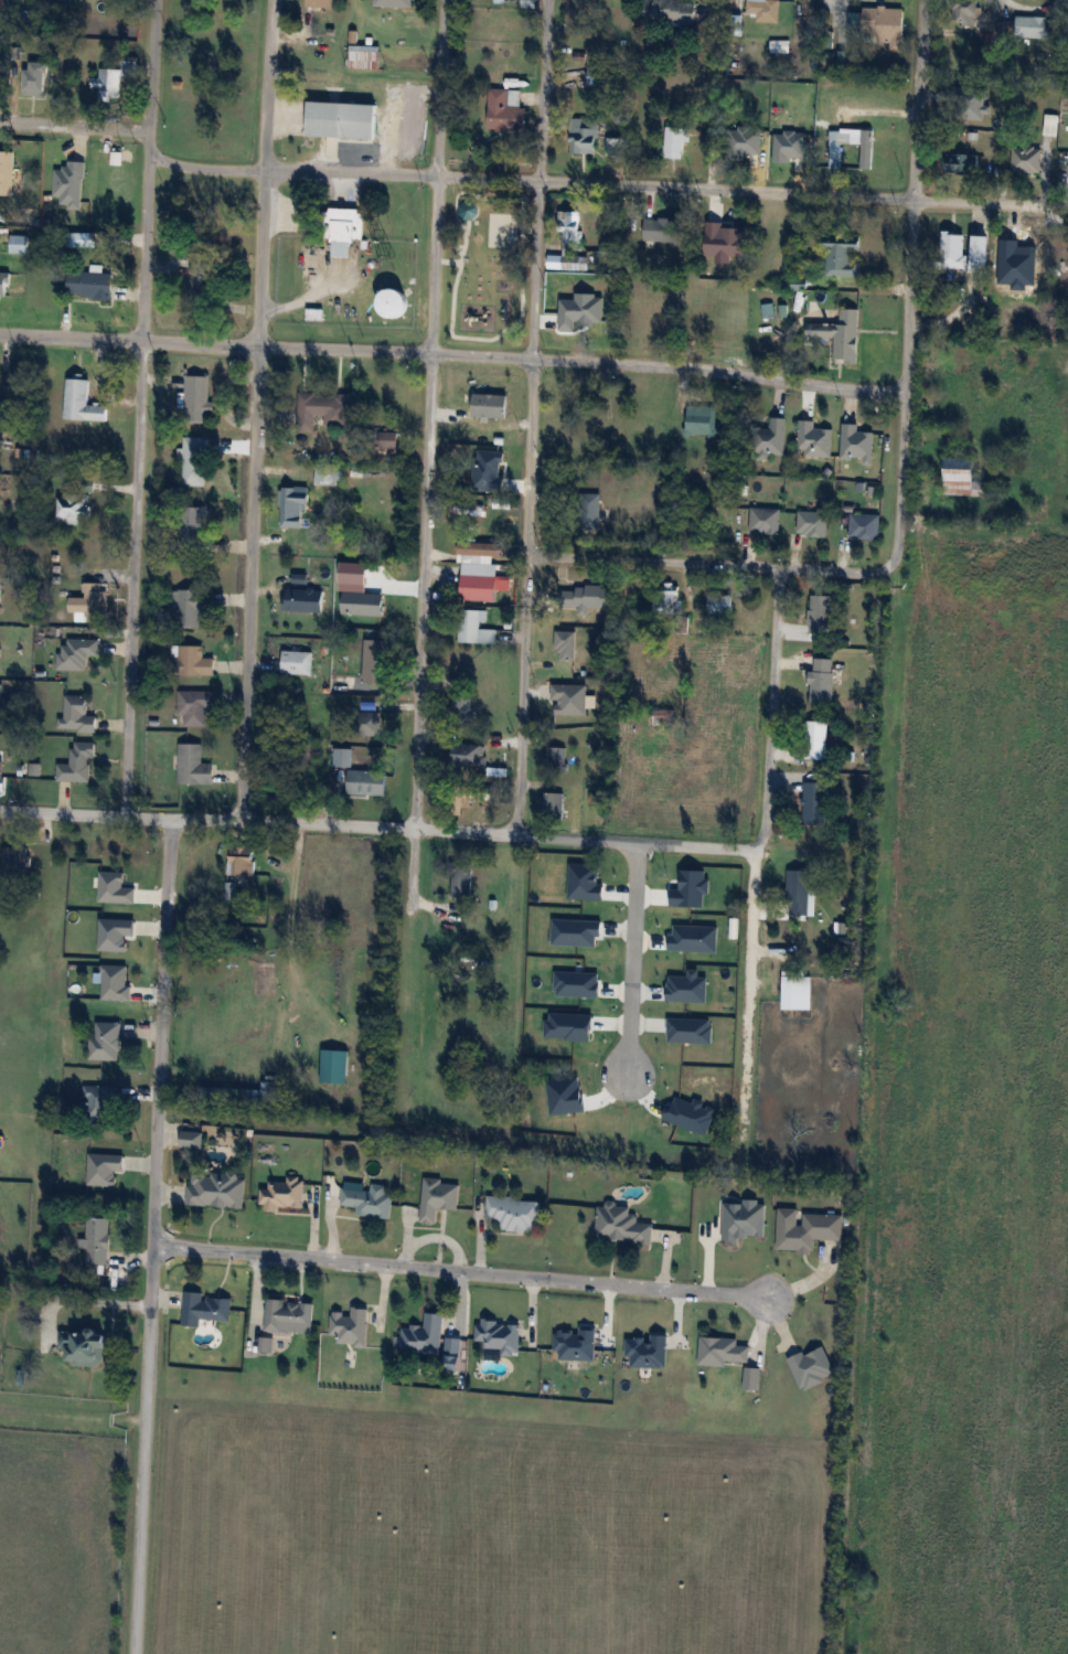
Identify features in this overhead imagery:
building: (1, 3)
building: (321, 3)
building: (393, 3)
building: (528, 3)
building: (765, 10)
building: (670, 11)
building: (965, 12)
building: (578, 18)
building: (886, 25)
building: (1033, 26)
building: (778, 46)
building: (363, 57)
building: (129, 68)
building: (33, 78)
building: (109, 85)
road: (267, 85)
road: (441, 88)
road: (919, 99)
building: (970, 103)
building: (505, 111)
building: (342, 120)
building: (1049, 124)
building: (584, 136)
building: (715, 139)
building: (675, 142)
building: (786, 143)
building: (842, 150)
building: (1026, 160)
building: (962, 162)
road: (148, 169)
building: (6, 173)
road: (526, 180)
building: (348, 225)
building: (662, 227)
building: (568, 236)
building: (727, 239)
building: (19, 244)
building: (953, 249)
building: (980, 250)
building: (1061, 250)
building: (843, 255)
road: (261, 258)
road: (435, 264)
park: (485, 267)
road: (536, 277)
building: (202, 281)
building: (89, 285)
building: (3, 286)
building: (394, 303)
building: (596, 318)
building: (724, 330)
building: (839, 335)
road: (453, 353)
road: (906, 382)
building: (196, 398)
building: (81, 401)
building: (490, 404)
building: (323, 409)
building: (699, 419)
building: (770, 437)
building: (388, 438)
building: (813, 438)
building: (856, 441)
building: (485, 448)
building: (194, 459)
building: (328, 473)
building: (961, 477)
building: (293, 504)
building: (73, 508)
building: (470, 509)
building: (587, 510)
building: (765, 520)
building: (812, 522)
building: (864, 525)
building: (191, 529)
building: (477, 552)
road: (708, 565)
road: (132, 578)
road: (250, 583)
building: (482, 584)
road: (423, 589)
building: (665, 597)
building: (586, 598)
building: (303, 599)
building: (89, 600)
building: (363, 602)
building: (719, 604)
building: (188, 608)
building: (821, 611)
building: (161, 613)
building: (474, 628)
building: (565, 644)
building: (77, 652)
building: (194, 661)
building: (376, 661)
building: (297, 662)
building: (821, 680)
road: (521, 695)
building: (569, 698)
building: (2, 706)
building: (193, 706)
building: (461, 707)
building: (77, 714)
building: (370, 723)
building: (816, 739)
building: (468, 755)
building: (555, 756)
building: (303, 757)
building: (342, 757)
building: (77, 764)
building: (193, 765)
building: (1, 767)
road: (769, 775)
building: (366, 781)
building: (464, 798)
building: (552, 802)
building: (814, 802)
road: (62, 812)
road: (439, 829)
building: (15, 857)
building: (243, 860)
road: (406, 882)
building: (461, 882)
building: (231, 889)
building: (800, 893)
road: (636, 958)
building: (485, 992)
building: (797, 992)
building: (106, 1041)
building: (333, 1065)
building: (210, 1090)
building: (261, 1093)
building: (100, 1102)
building: (191, 1138)
building: (216, 1188)
building: (282, 1193)
building: (438, 1197)
building: (369, 1199)
building: (513, 1213)
building: (622, 1225)
building: (805, 1228)
road: (151, 1236)
building: (97, 1239)
road: (458, 1267)
road: (78, 1298)
building: (204, 1309)
building: (289, 1315)
building: (350, 1326)
building: (424, 1335)
building: (500, 1336)
building: (85, 1346)
building: (722, 1351)
building: (751, 1378)

